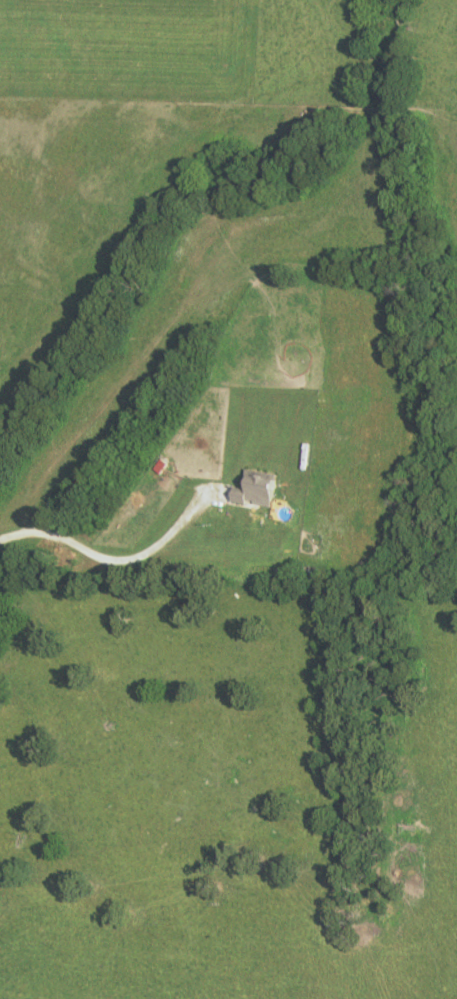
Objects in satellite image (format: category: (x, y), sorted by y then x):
building: (250, 488)

